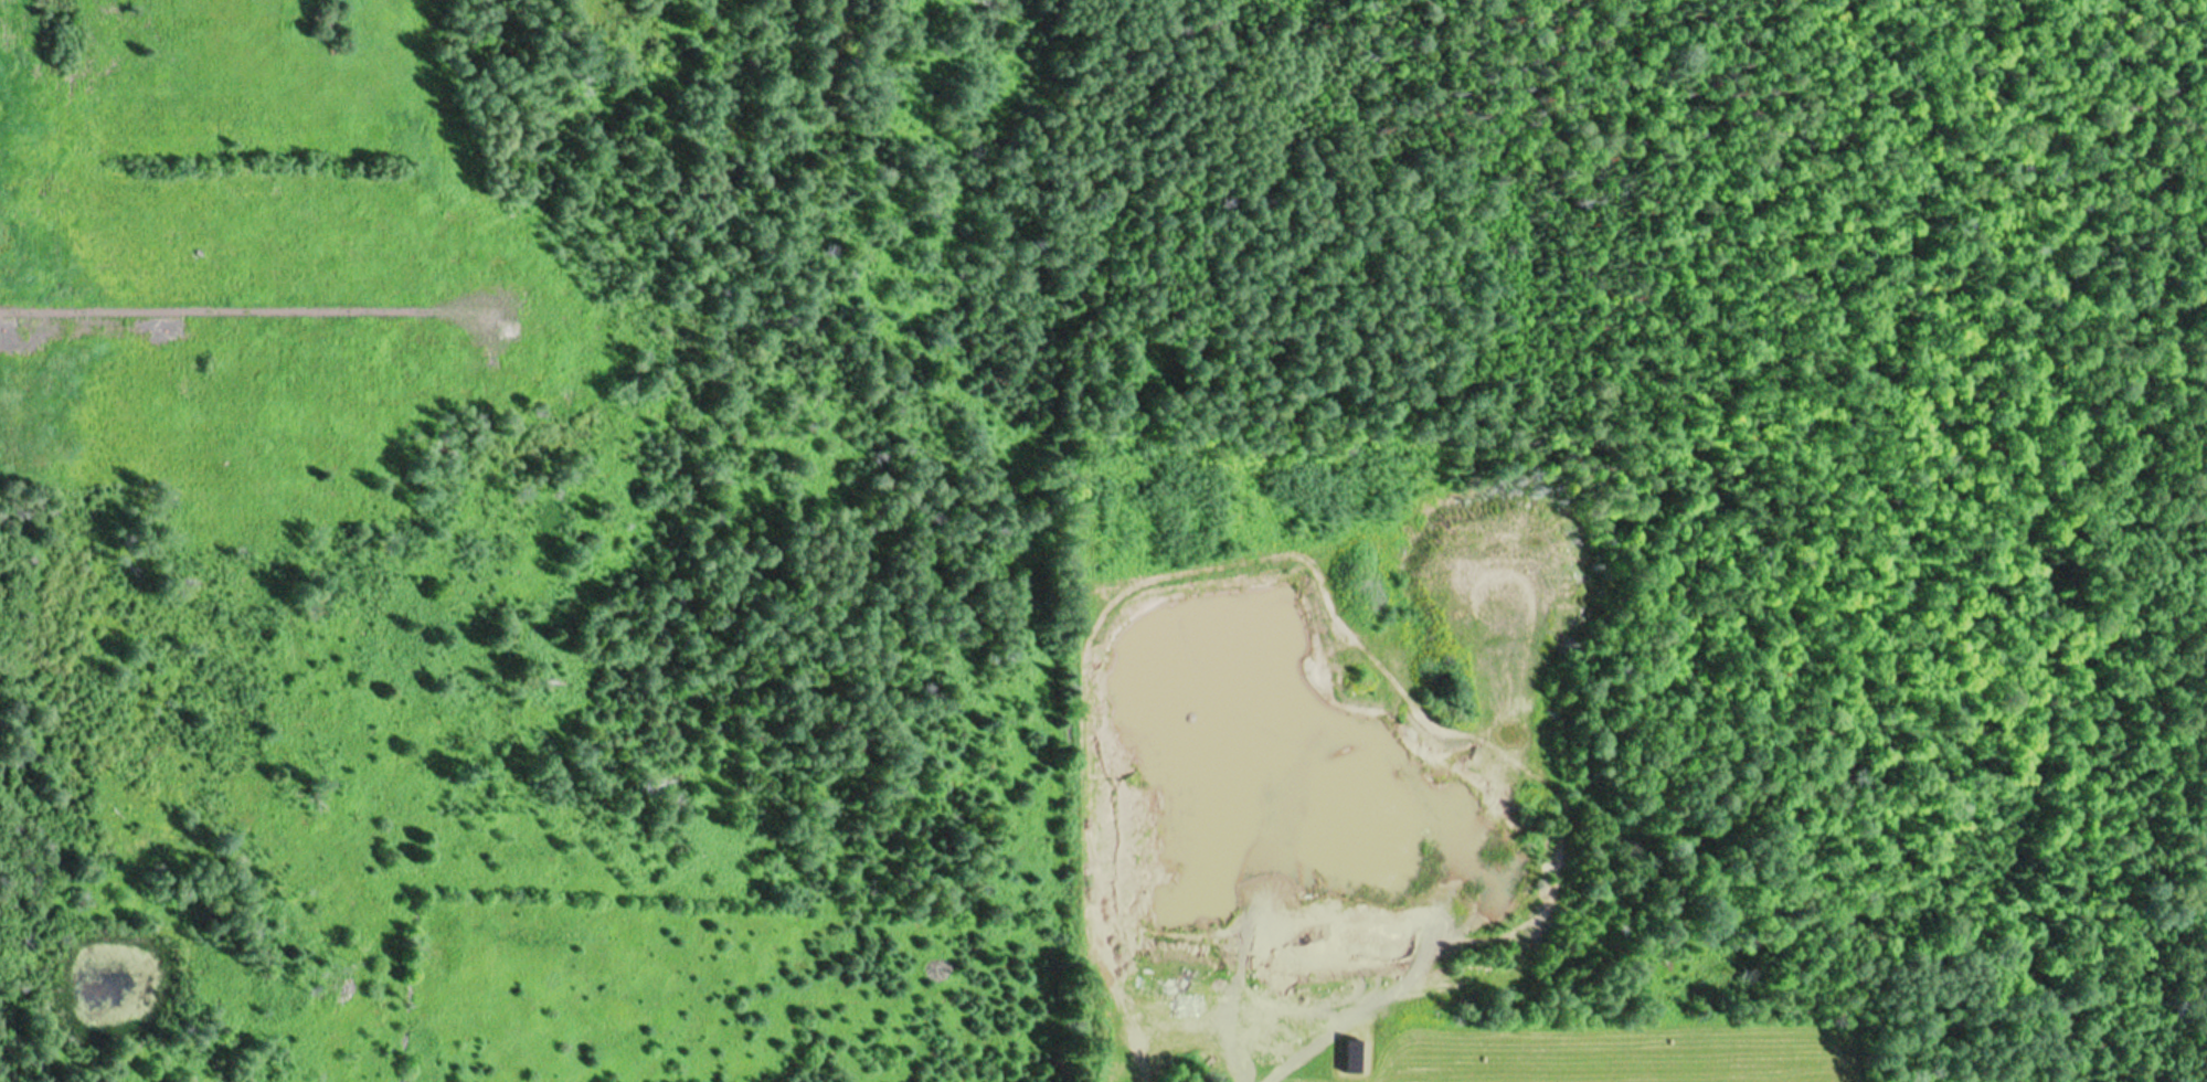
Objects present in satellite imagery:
building: (1352, 1058)
road: (72, 1060)

